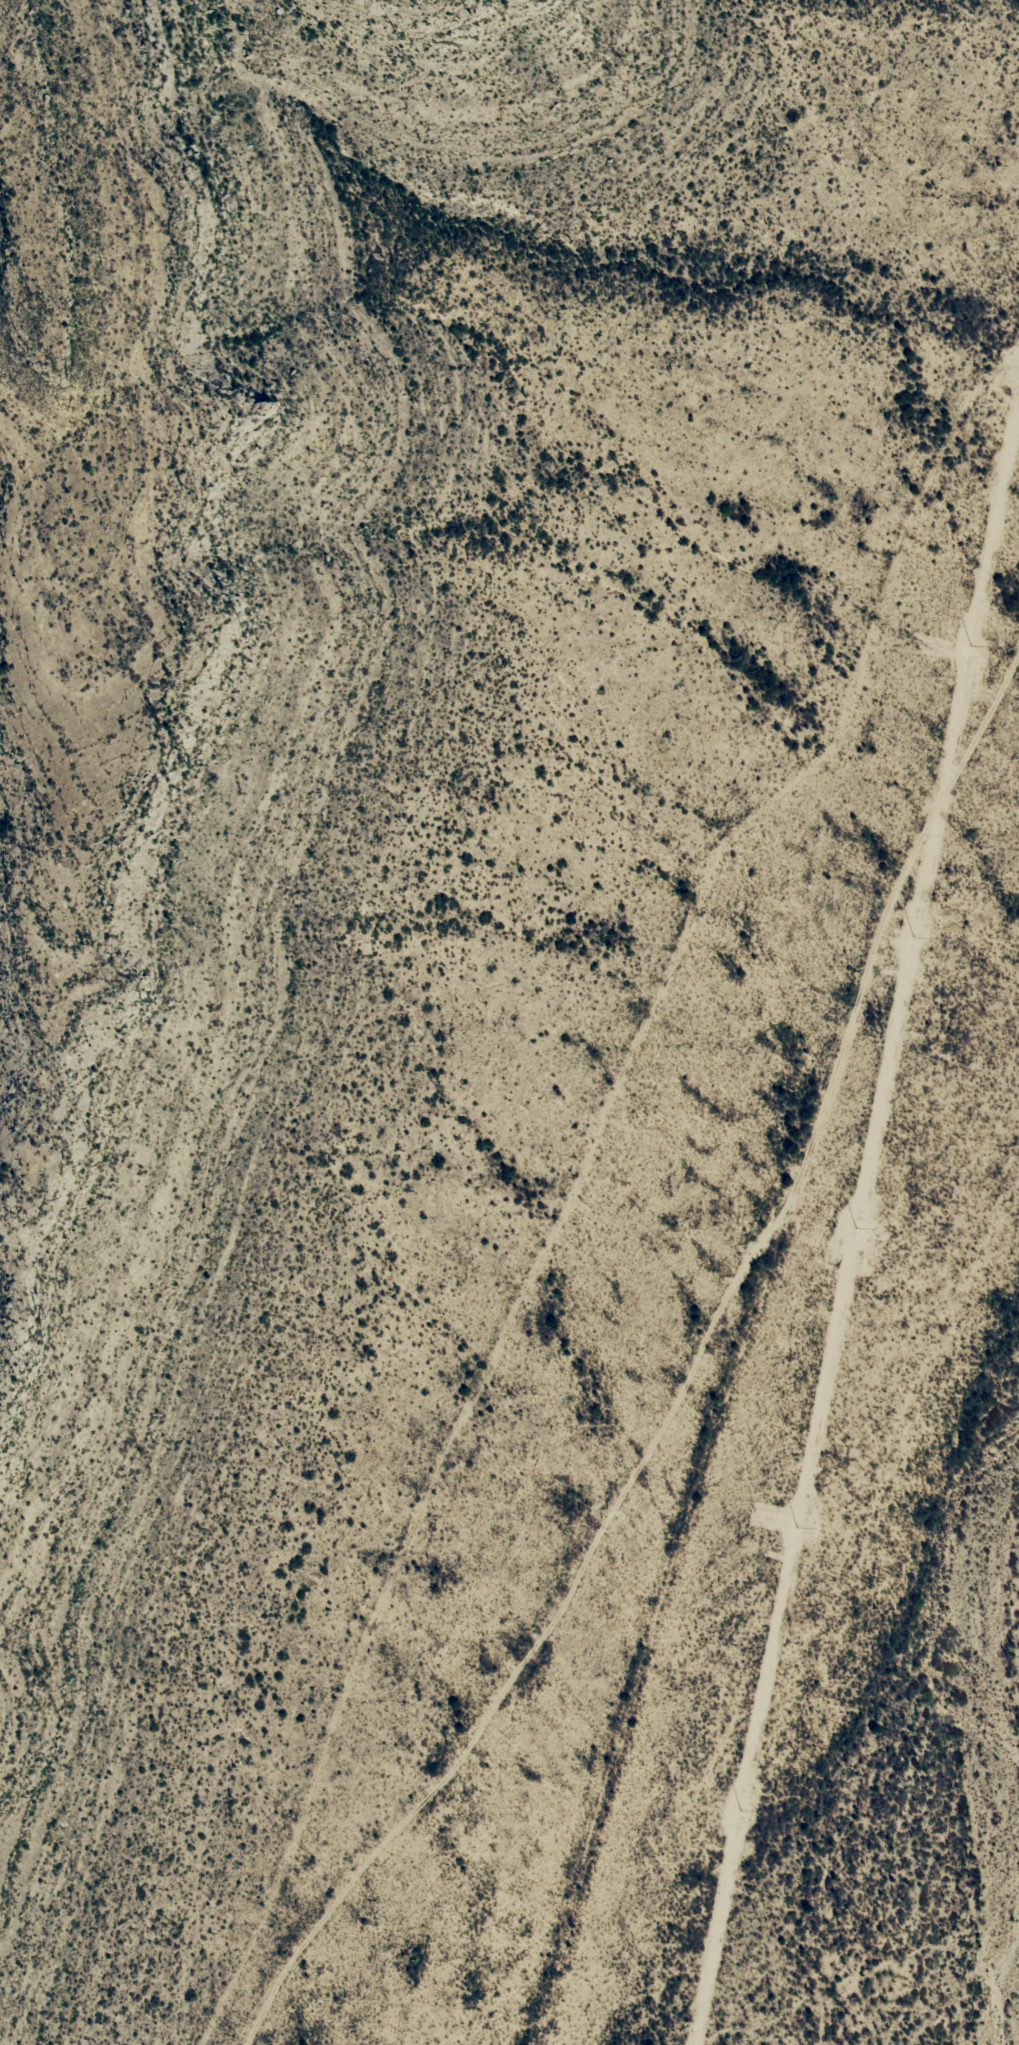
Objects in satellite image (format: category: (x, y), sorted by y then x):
road: (687, 1377)

